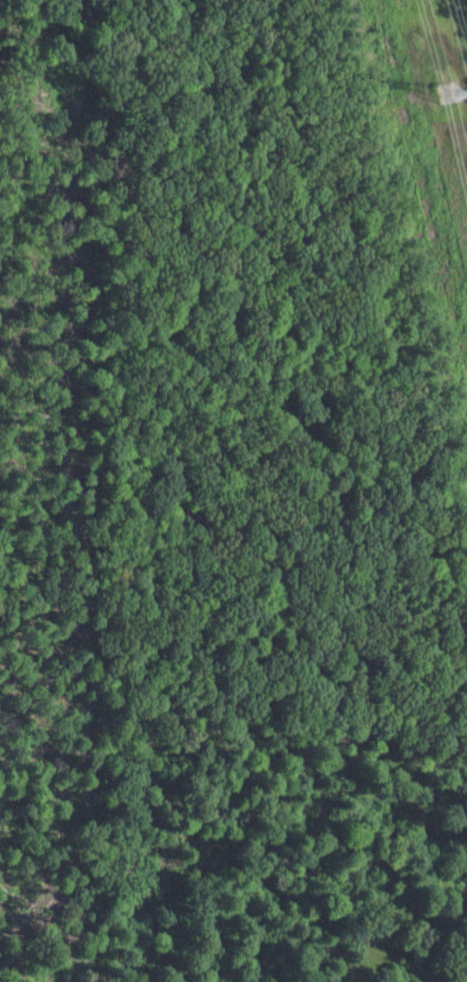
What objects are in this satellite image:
power tower: (435, 75)

